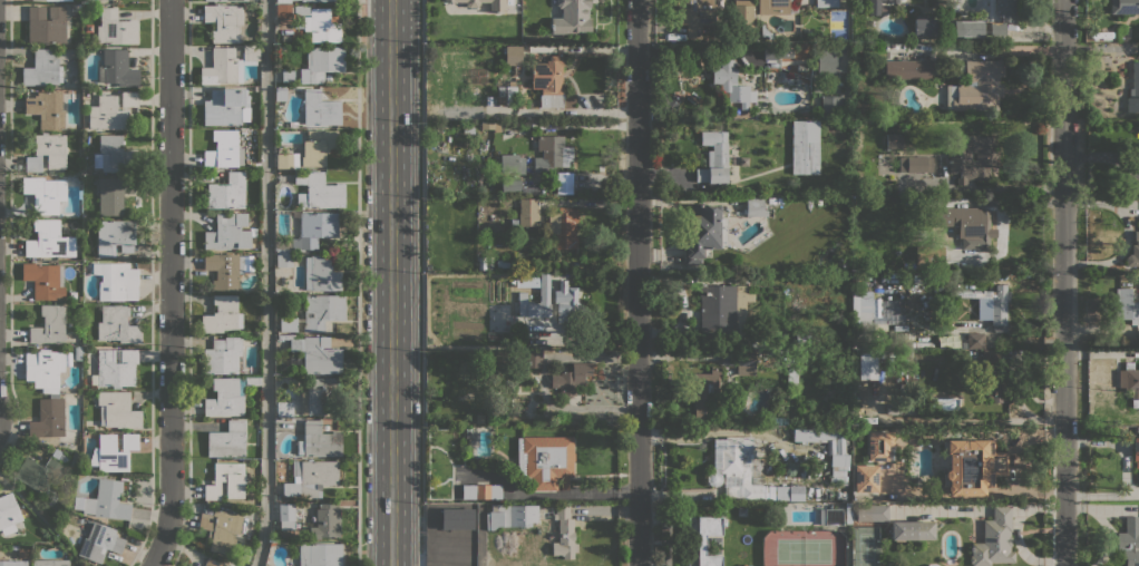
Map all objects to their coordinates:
building: (232, 0)
building: (312, 0)
building: (894, 1)
building: (831, 3)
building: (941, 4)
building: (953, 4)
building: (497, 6)
building: (777, 7)
building: (1125, 7)
building: (94, 8)
building: (874, 8)
building: (74, 9)
building: (301, 9)
building: (1002, 10)
building: (284, 11)
building: (694, 16)
building: (572, 18)
building: (742, 20)
building: (224, 21)
building: (46, 23)
building: (924, 25)
building: (321, 26)
building: (88, 27)
building: (116, 28)
building: (968, 28)
building: (999, 29)
building: (766, 31)
road: (691, 49)
building: (770, 51)
building: (786, 52)
building: (513, 55)
building: (826, 61)
building: (322, 62)
building: (228, 65)
building: (42, 68)
building: (117, 68)
building: (801, 68)
building: (907, 69)
building: (288, 75)
building: (549, 80)
building: (731, 81)
building: (976, 86)
building: (1133, 89)
building: (506, 96)
building: (129, 98)
building: (483, 101)
building: (673, 101)
building: (830, 104)
building: (313, 105)
building: (225, 106)
building: (46, 108)
building: (107, 114)
building: (489, 124)
building: (468, 129)
building: (894, 140)
building: (318, 147)
building: (805, 147)
building: (224, 149)
building: (47, 152)
building: (552, 153)
building: (115, 155)
building: (714, 157)
building: (288, 160)
building: (512, 163)
building: (973, 163)
building: (915, 164)
building: (87, 173)
building: (562, 183)
building: (510, 184)
building: (319, 191)
building: (227, 192)
building: (45, 193)
building: (113, 194)
building: (771, 199)
building: (780, 199)
building: (755, 206)
building: (528, 212)
building: (514, 222)
building: (967, 225)
building: (563, 226)
building: (314, 228)
building: (227, 232)
building: (703, 233)
building: (115, 236)
building: (49, 241)
building: (1133, 252)
building: (284, 260)
building: (505, 262)
building: (224, 270)
building: (321, 274)
building: (43, 280)
building: (116, 281)
road: (265, 283)
road: (358, 283)
road: (390, 283)
road: (421, 283)
road: (636, 283)
road: (1064, 283)
road: (169, 284)
building: (523, 297)
building: (991, 303)
building: (567, 304)
building: (1126, 305)
building: (861, 310)
building: (882, 310)
building: (984, 310)
building: (723, 311)
building: (317, 313)
building: (222, 314)
building: (948, 322)
building: (49, 324)
building: (115, 324)
building: (846, 336)
building: (802, 338)
building: (973, 340)
building: (947, 341)
building: (904, 345)
building: (538, 347)
building: (77, 353)
building: (907, 353)
building: (223, 355)
building: (317, 355)
building: (991, 355)
building: (526, 359)
building: (787, 360)
building: (746, 363)
building: (867, 365)
building: (43, 368)
building: (115, 368)
building: (791, 375)
building: (571, 378)
building: (252, 381)
building: (1129, 382)
building: (995, 384)
building: (52, 390)
building: (704, 393)
building: (53, 394)
building: (317, 394)
building: (225, 397)
building: (902, 407)
building: (284, 409)
building: (117, 410)
building: (48, 418)
building: (479, 418)
building: (489, 419)
building: (1137, 429)
building: (227, 440)
building: (318, 440)
building: (879, 445)
building: (839, 447)
building: (113, 451)
building: (1136, 451)
building: (59, 455)
building: (545, 461)
building: (734, 465)
building: (967, 466)
building: (40, 476)
building: (311, 478)
building: (866, 478)
building: (225, 480)
building: (480, 491)
building: (107, 500)
building: (9, 513)
building: (869, 513)
building: (848, 514)
building: (285, 515)
building: (510, 516)
building: (833, 516)
building: (473, 518)
building: (327, 519)
building: (222, 527)
building: (912, 529)
building: (564, 534)
building: (703, 539)
building: (994, 539)
building: (1129, 540)
building: (99, 541)
building: (22, 553)
building: (320, 554)
building: (13, 563)
building: (50, 563)
building: (213, 563)
building: (932, 565)

